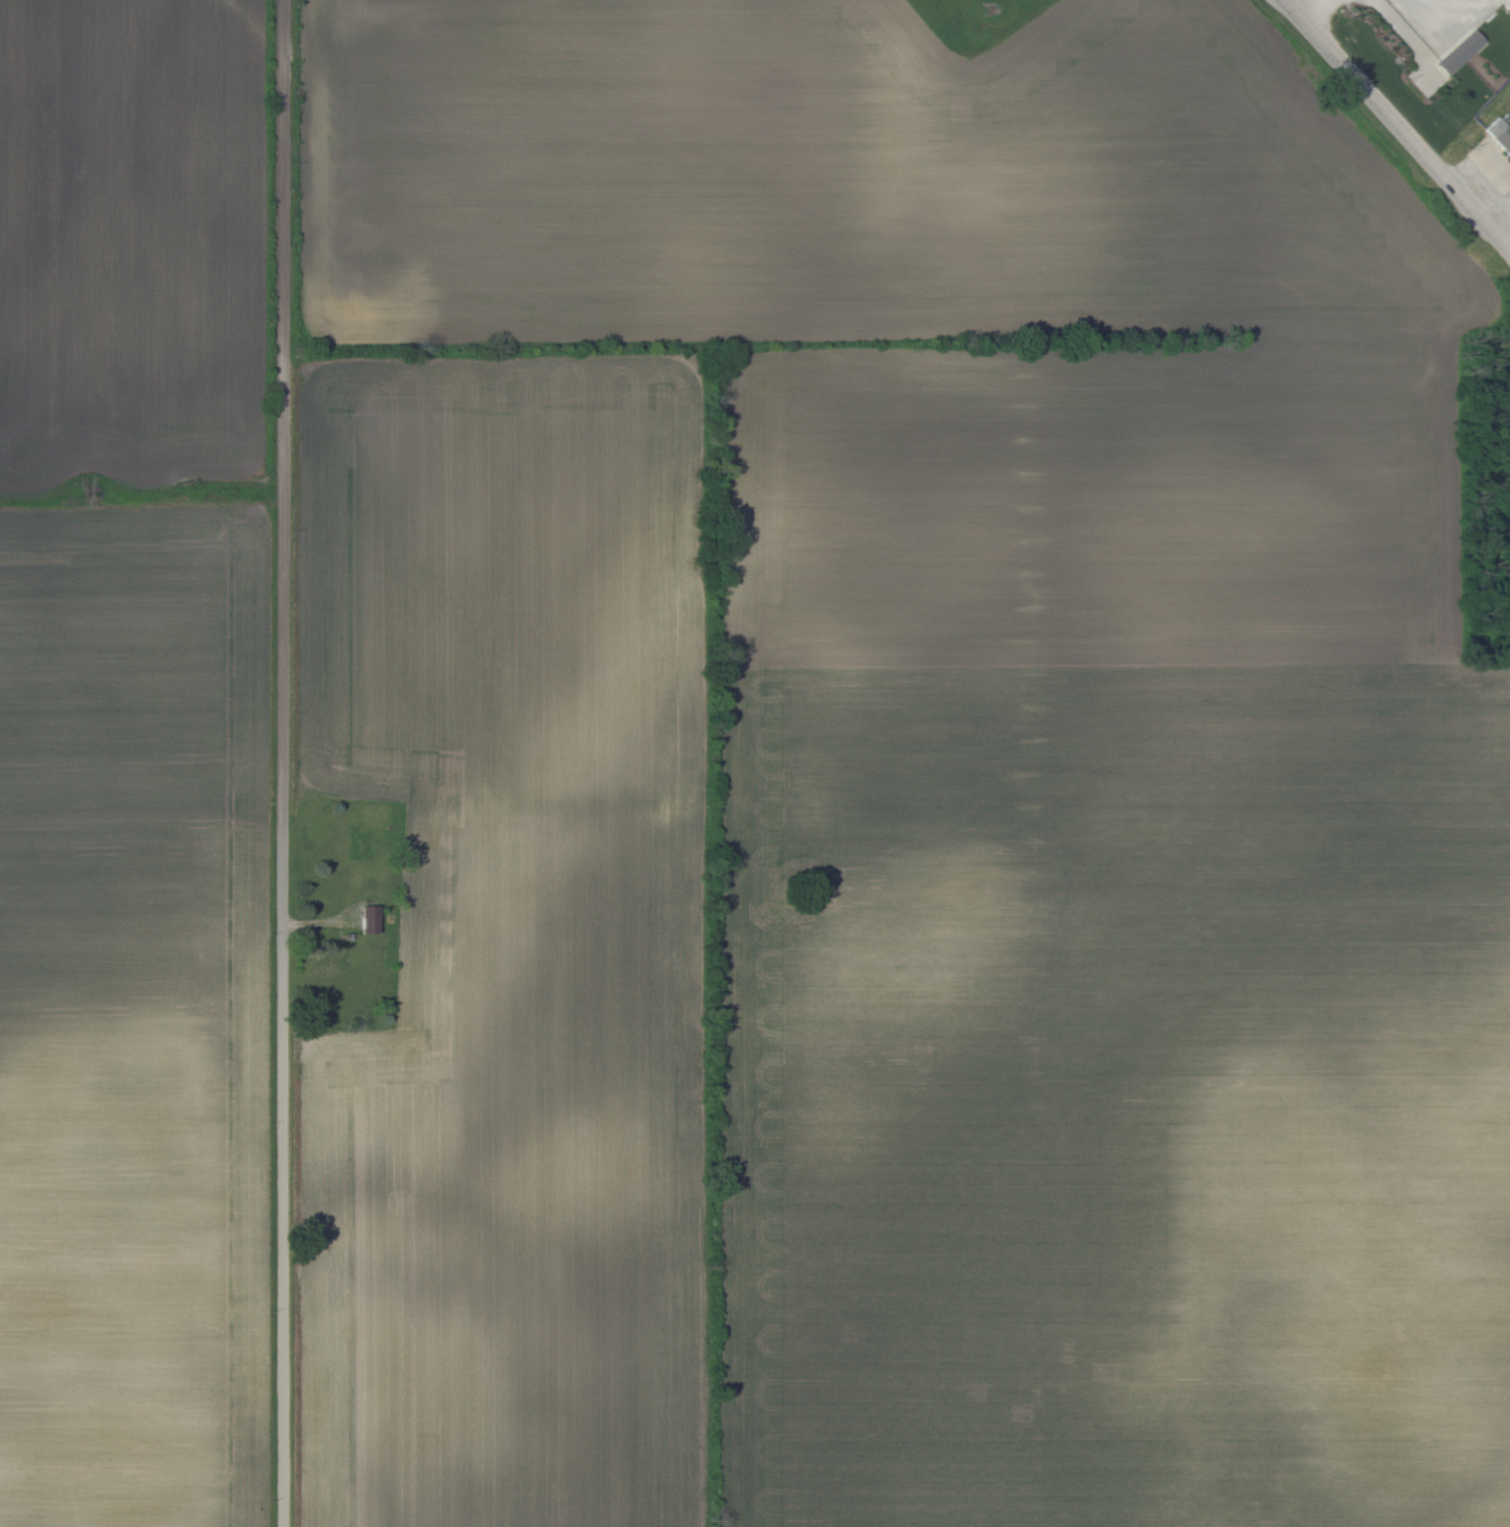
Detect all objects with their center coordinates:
road: (1298, 5)
road: (1422, 11)
building: (1459, 52)
road: (1396, 124)
building: (1499, 134)
road: (1501, 221)
road: (284, 763)
building: (368, 918)

